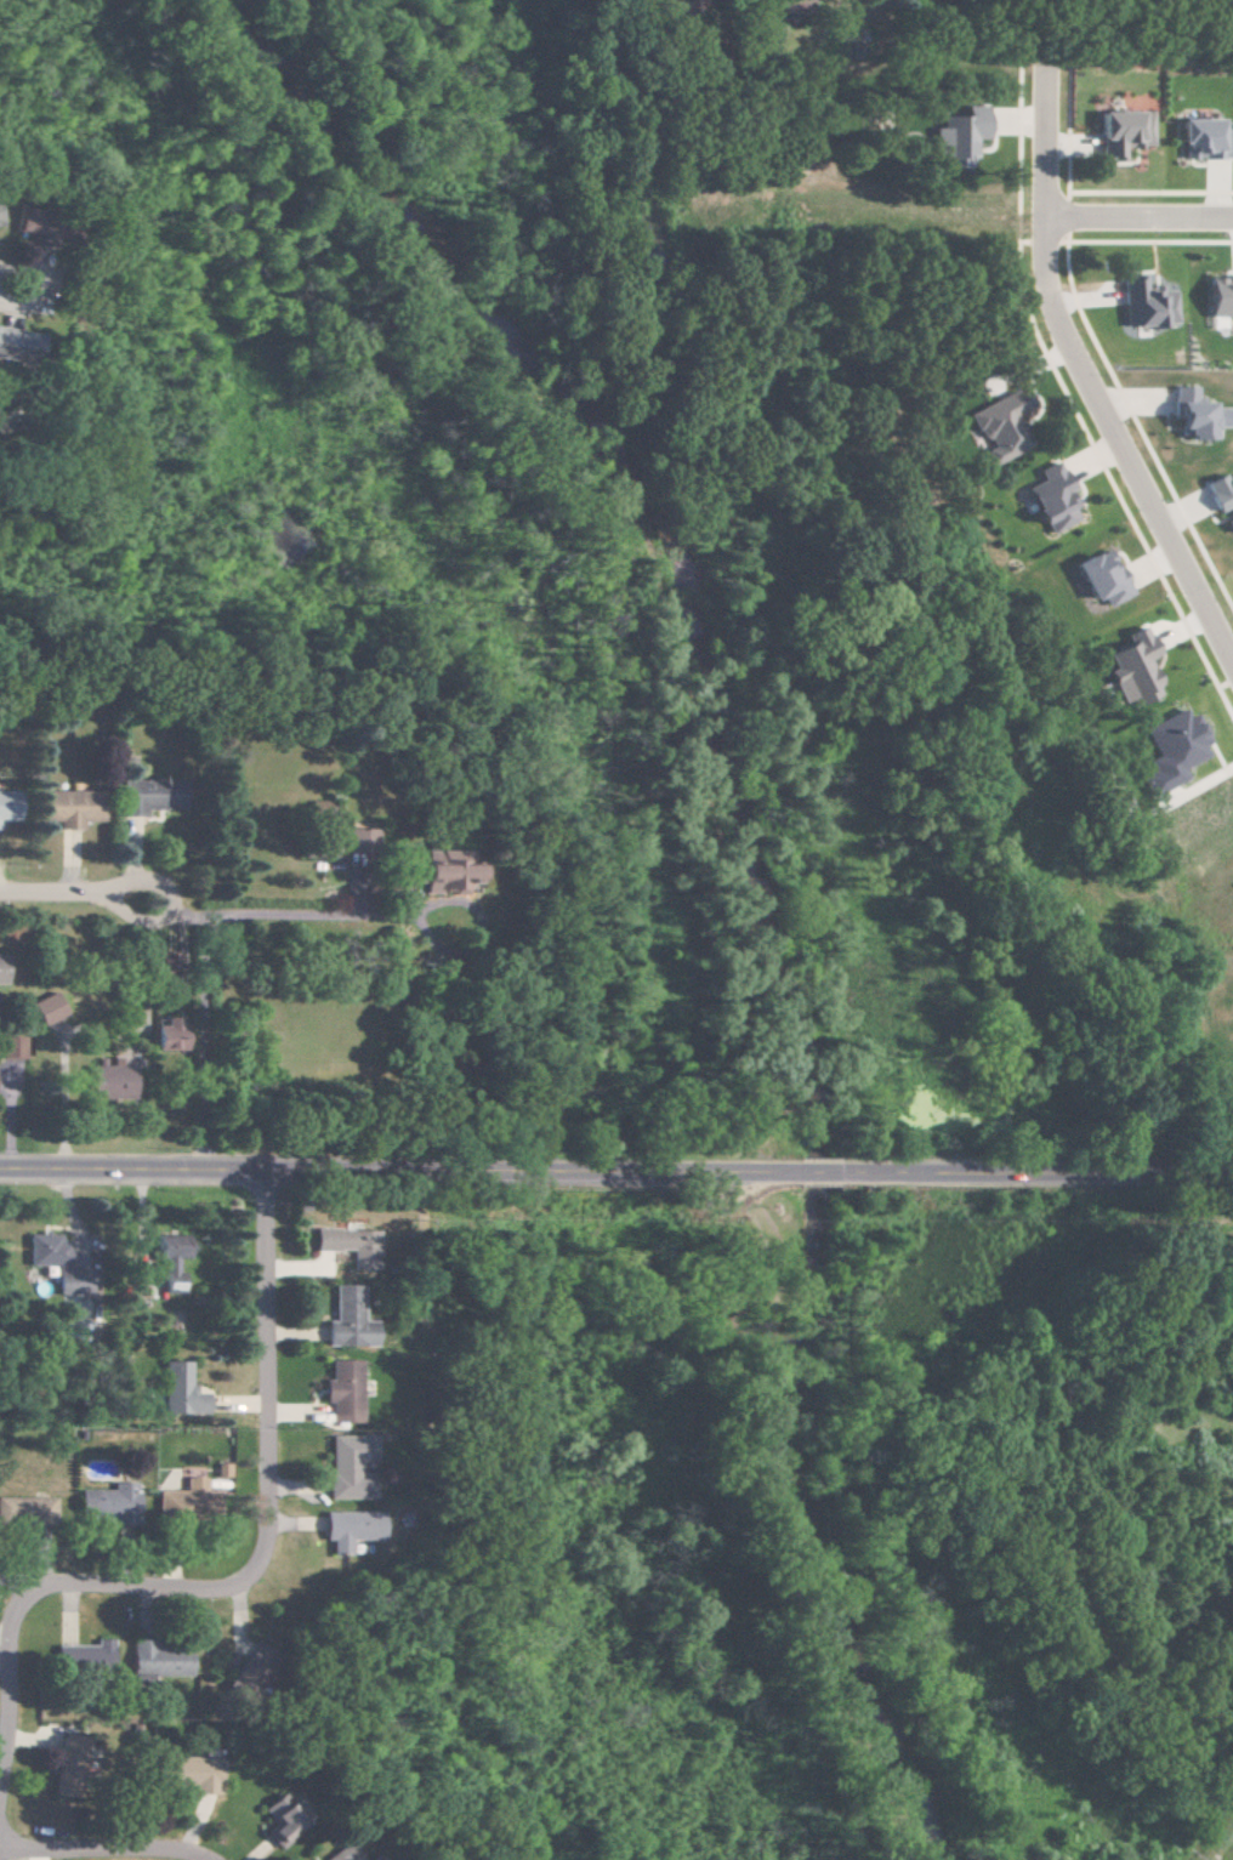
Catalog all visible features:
building: (682, 5)
building: (1121, 132)
building: (956, 136)
building: (1204, 140)
road: (1141, 215)
road: (45, 269)
building: (1221, 297)
building: (1144, 305)
building: (8, 345)
road: (1090, 377)
building: (1193, 414)
building: (1000, 425)
building: (1221, 496)
building: (1051, 497)
building: (1101, 578)
building: (1132, 669)
building: (1171, 750)
building: (135, 797)
building: (7, 804)
building: (66, 807)
building: (354, 840)
building: (443, 871)
road: (47, 892)
road: (169, 900)
road: (189, 916)
road: (194, 961)
building: (46, 1008)
building: (11, 1047)
building: (112, 1077)
road: (1039, 1173)
road: (390, 1174)
road: (813, 1174)
building: (348, 1247)
building: (169, 1258)
building: (345, 1319)
building: (175, 1390)
building: (337, 1392)
building: (340, 1468)
building: (217, 1469)
building: (186, 1496)
building: (106, 1502)
road: (771, 1513)
building: (343, 1528)
road: (244, 1583)
building: (83, 1653)
building: (154, 1661)
building: (243, 1676)
building: (66, 1763)
building: (186, 1771)
building: (277, 1819)
road: (102, 1852)
building: (337, 1853)

